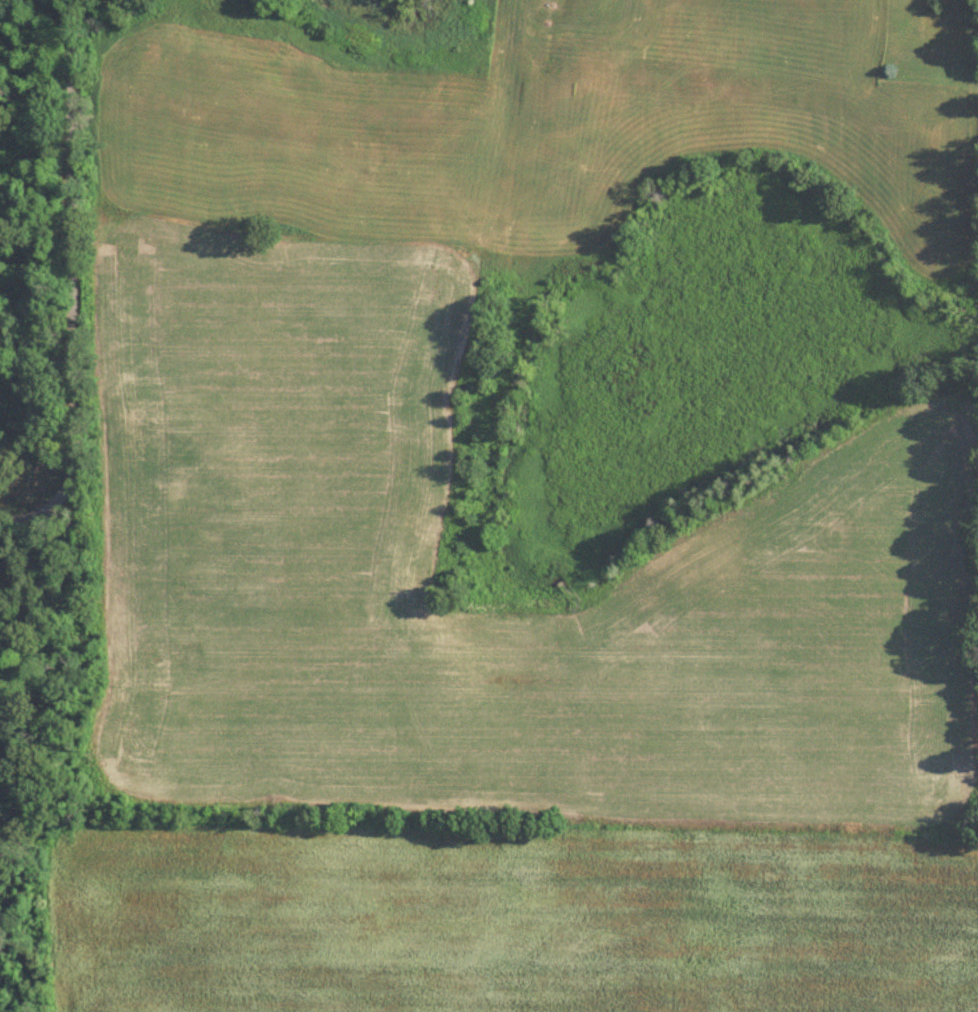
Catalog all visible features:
road: (74, 285)

